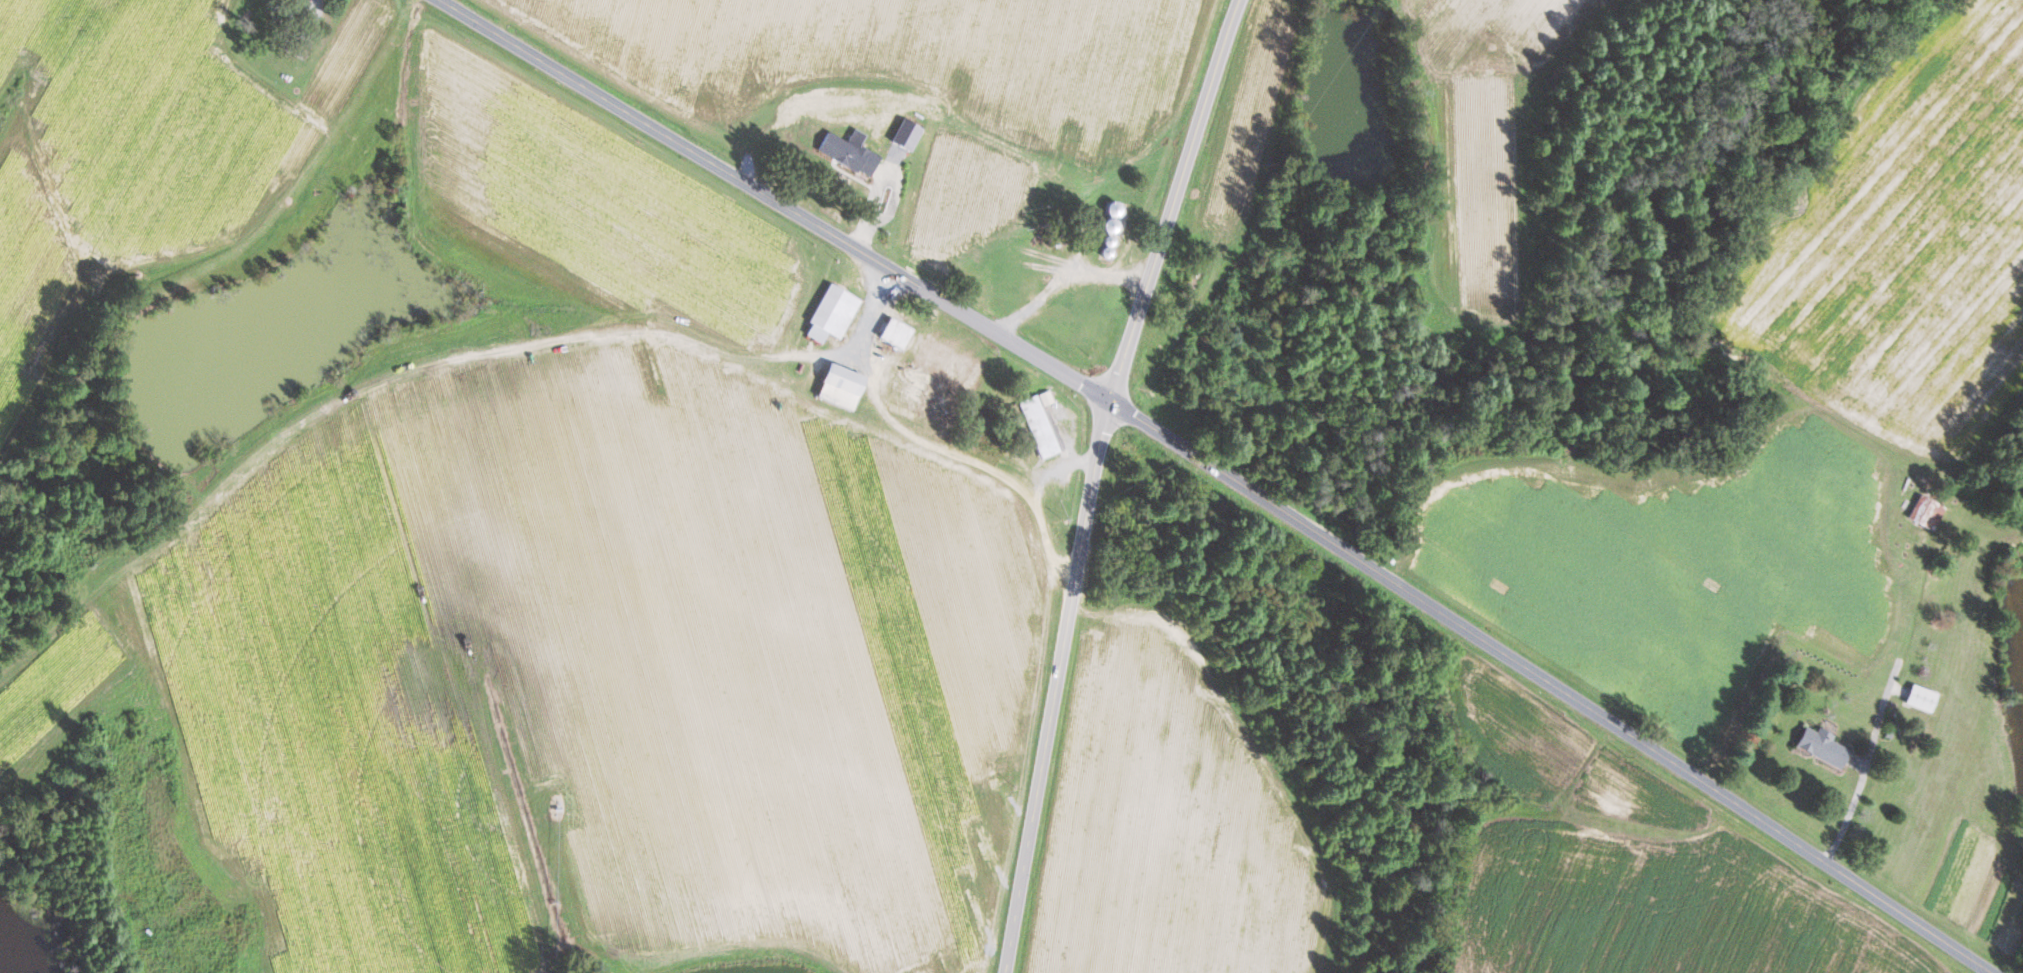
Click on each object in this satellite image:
building: (298, 4)
building: (907, 135)
building: (849, 152)
road: (872, 201)
road: (893, 201)
building: (1110, 226)
road: (1064, 280)
building: (832, 314)
building: (895, 334)
building: (925, 346)
building: (909, 383)
building: (840, 387)
building: (1040, 423)
road: (929, 443)
road: (1058, 467)
road: (1220, 474)
road: (1093, 479)
building: (1927, 513)
building: (1922, 697)
road: (1878, 729)
building: (1822, 745)

